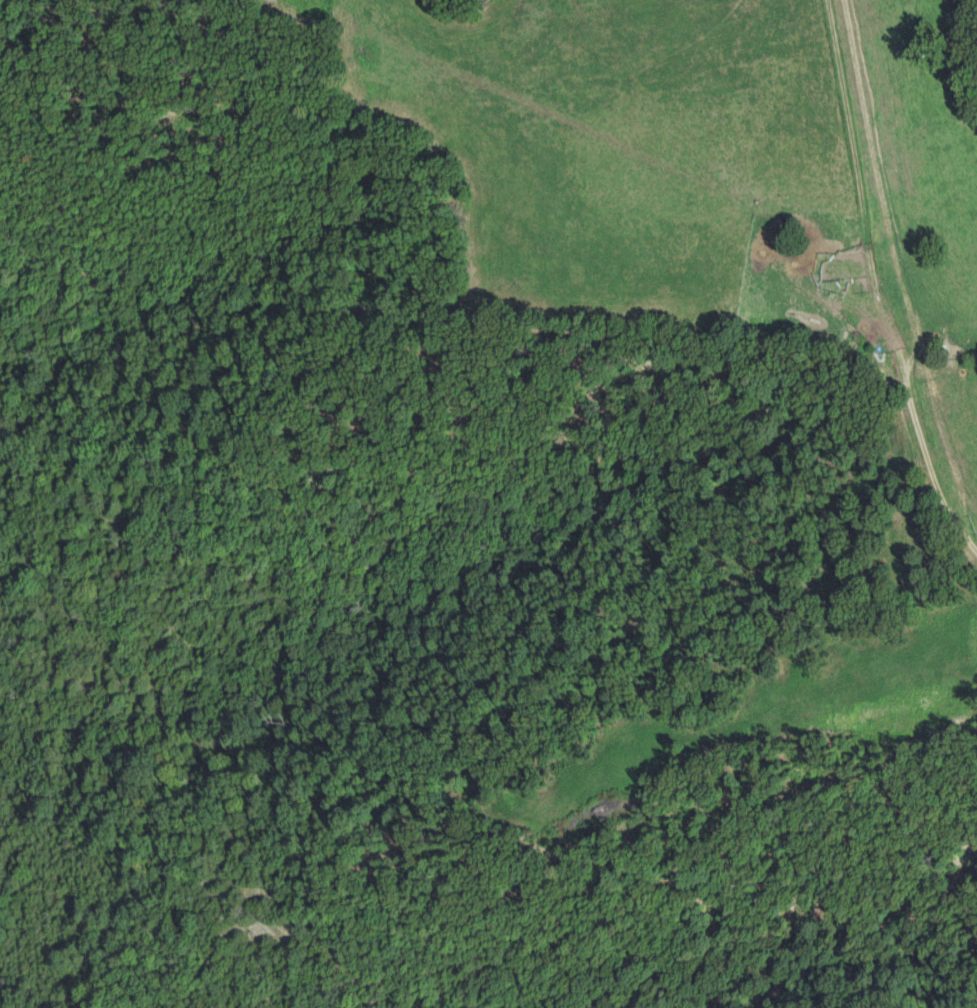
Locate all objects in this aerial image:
road: (875, 291)

